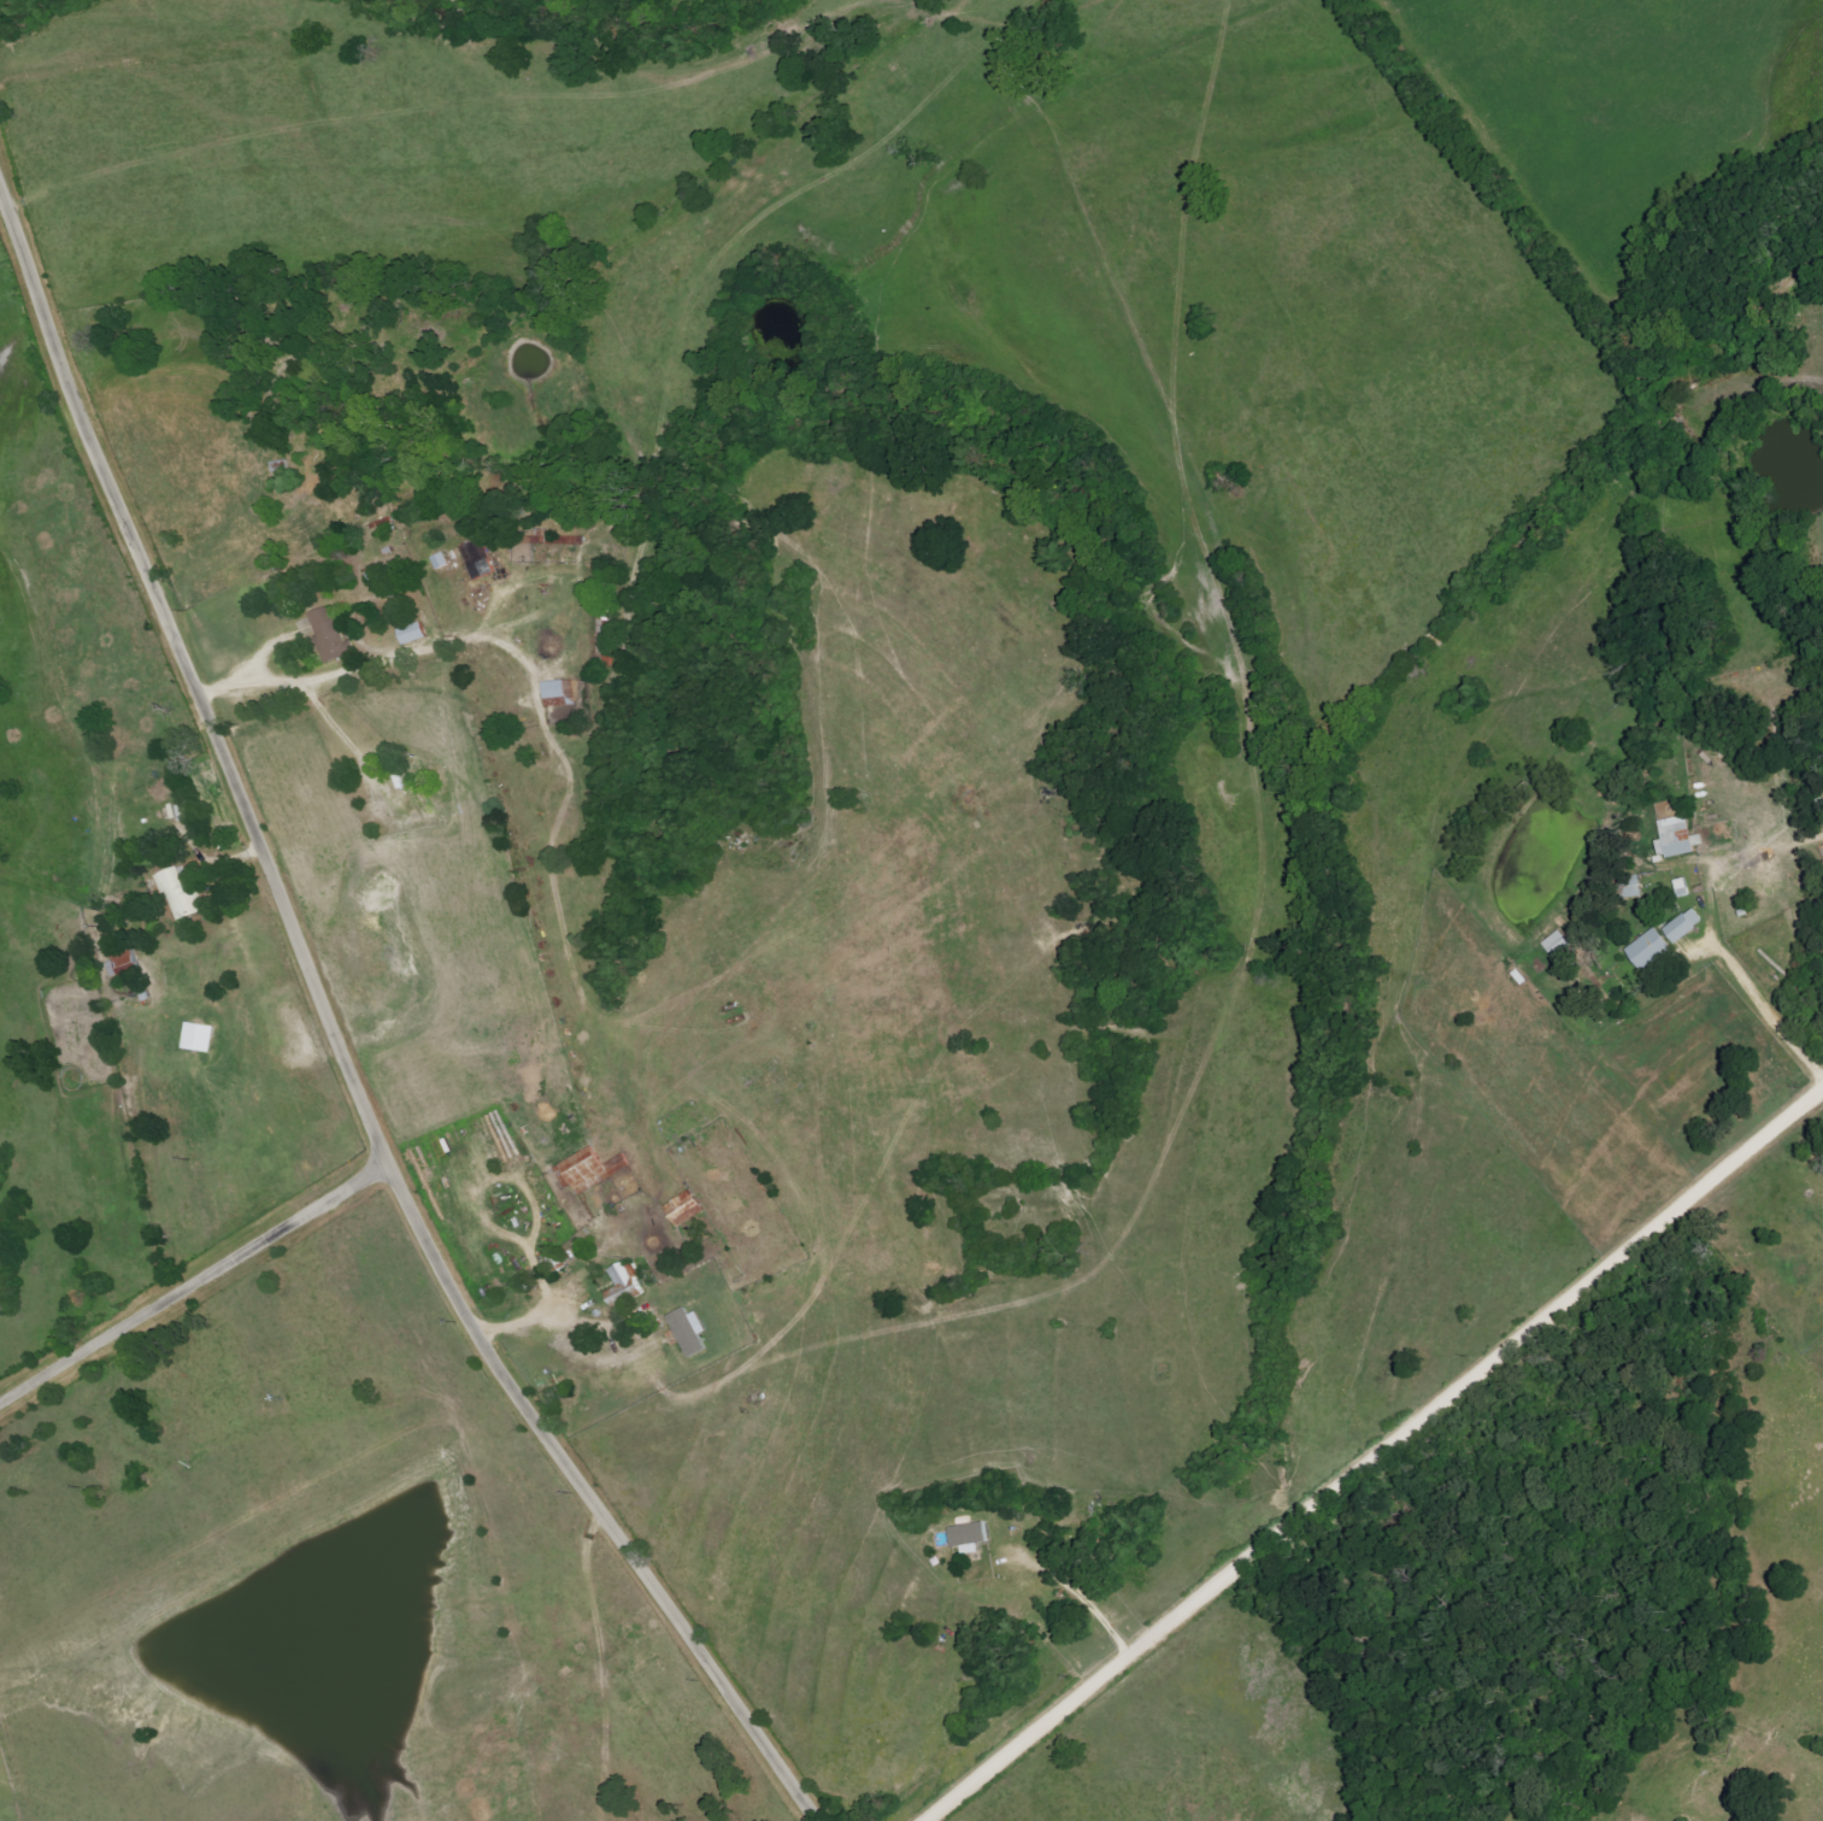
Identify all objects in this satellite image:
building: (442, 563)
building: (336, 638)
road: (259, 664)
building: (564, 691)
building: (1677, 838)
building: (1629, 888)
building: (1680, 888)
building: (178, 892)
building: (1682, 926)
building: (1556, 945)
building: (1646, 950)
building: (127, 967)
road: (1769, 1012)
building: (198, 1038)
road: (339, 1039)
building: (588, 1170)
building: (683, 1209)
building: (623, 1282)
road: (196, 1283)
road: (560, 1308)
building: (686, 1330)
road: (1377, 1457)
building: (966, 1535)

